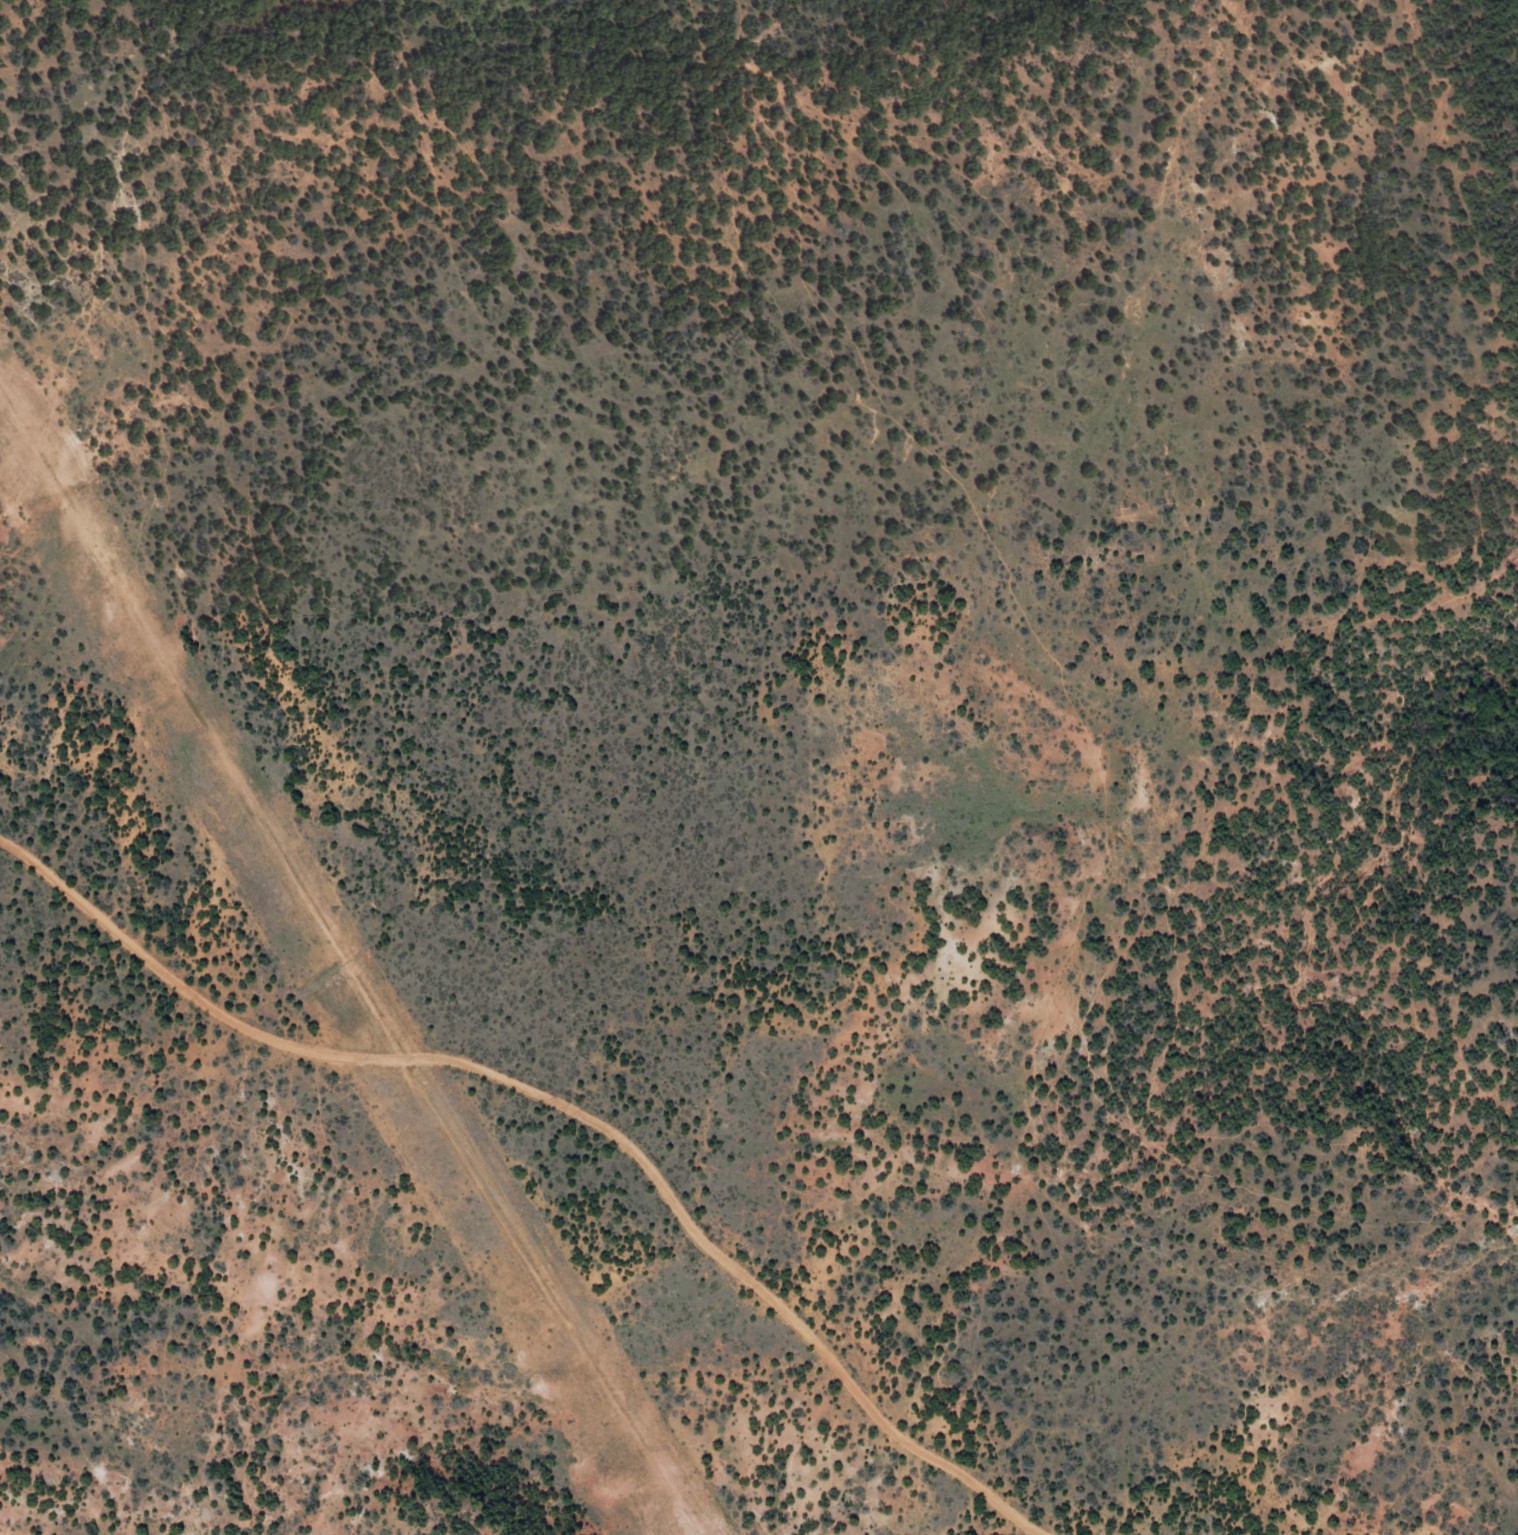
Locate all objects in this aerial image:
road: (573, 1128)

